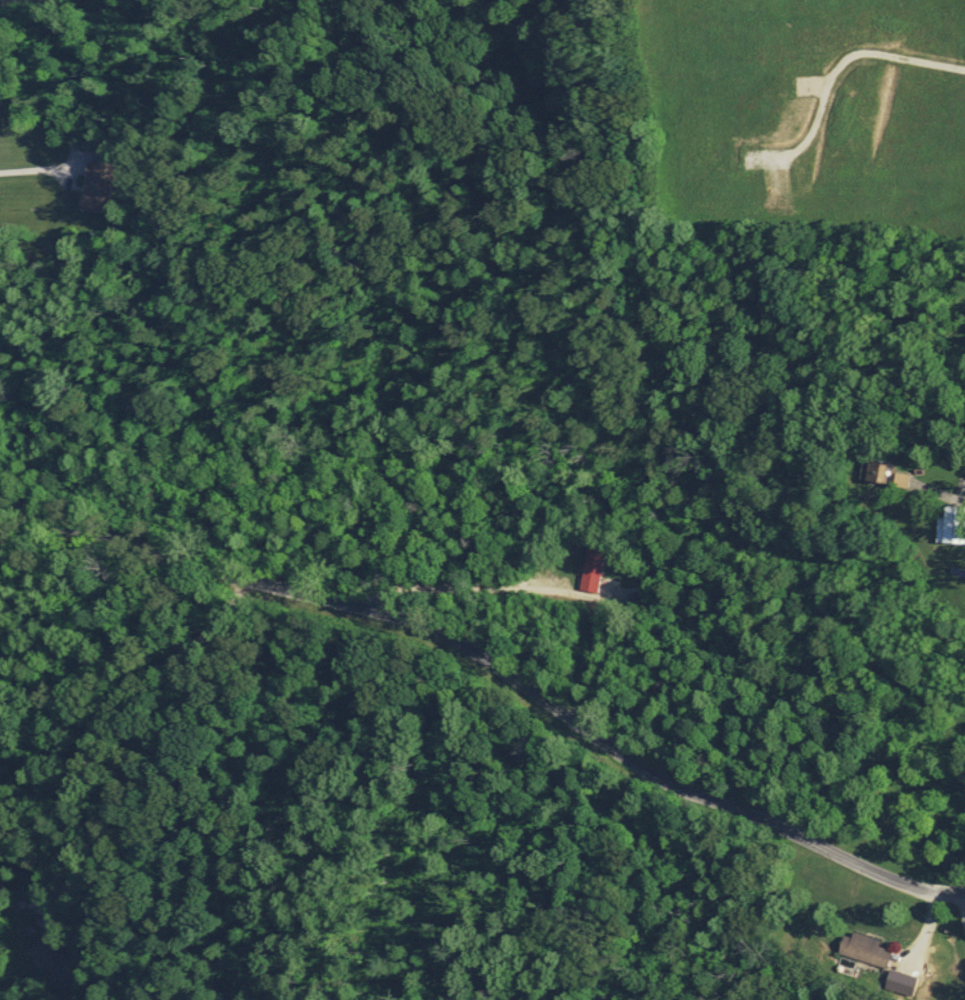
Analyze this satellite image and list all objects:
building: (97, 177)
building: (880, 474)
building: (951, 523)
building: (591, 568)
road: (497, 663)
road: (116, 783)
building: (862, 949)

